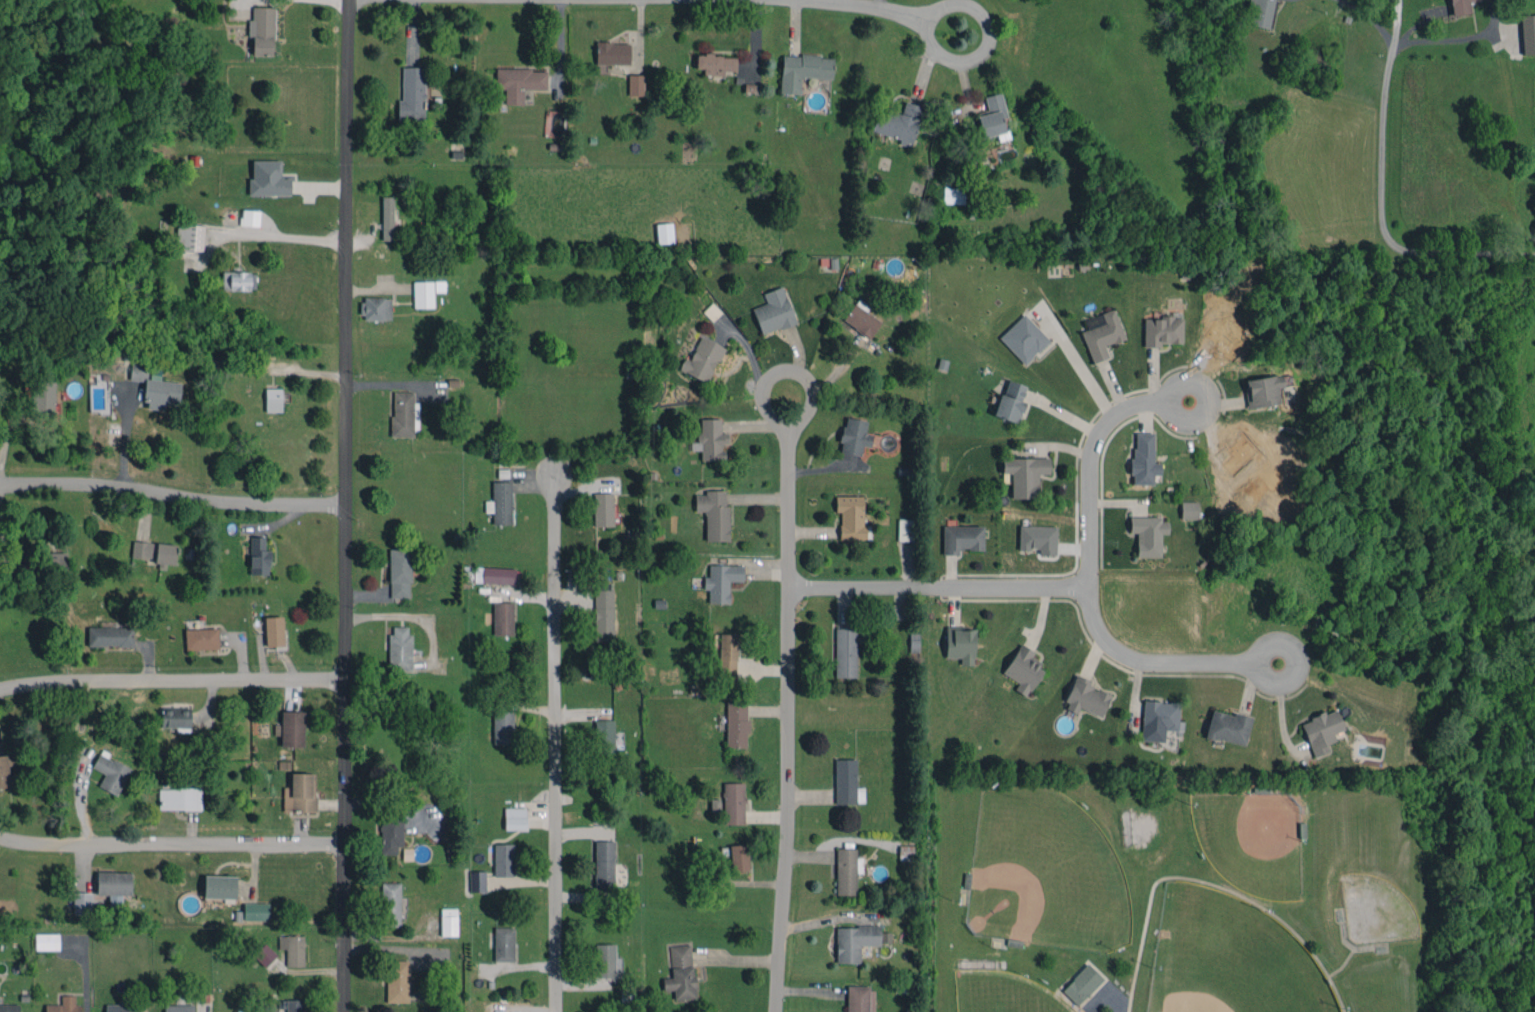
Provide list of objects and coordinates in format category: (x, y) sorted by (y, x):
road: (866, 6)
building: (1460, 7)
building: (1260, 13)
road: (1372, 20)
building: (262, 30)
building: (1528, 33)
road: (1445, 41)
building: (612, 53)
road: (980, 56)
building: (716, 64)
building: (803, 70)
building: (519, 82)
building: (635, 84)
building: (412, 94)
building: (992, 116)
building: (898, 123)
building: (268, 179)
road: (1384, 193)
building: (953, 195)
building: (250, 217)
building: (387, 217)
building: (664, 233)
road: (284, 235)
building: (190, 237)
building: (238, 280)
building: (426, 292)
building: (376, 308)
building: (773, 311)
building: (711, 312)
building: (861, 318)
building: (1162, 330)
building: (1102, 335)
building: (1023, 338)
building: (702, 359)
road: (1080, 365)
road: (801, 376)
building: (155, 387)
building: (1261, 390)
building: (43, 399)
building: (273, 399)
building: (1011, 401)
building: (403, 413)
building: (854, 436)
road: (124, 437)
building: (710, 439)
building: (1143, 459)
building: (1025, 474)
road: (172, 495)
building: (500, 503)
road: (345, 505)
building: (603, 509)
building: (1188, 510)
building: (714, 514)
building: (850, 517)
building: (905, 529)
building: (1148, 534)
building: (961, 538)
building: (1037, 539)
building: (154, 552)
building: (258, 556)
building: (56, 562)
building: (399, 573)
building: (494, 575)
road: (1089, 578)
building: (721, 581)
road: (941, 589)
building: (603, 615)
building: (502, 618)
building: (274, 631)
building: (110, 636)
building: (201, 638)
building: (960, 644)
building: (400, 648)
building: (845, 652)
building: (727, 657)
building: (1023, 669)
road: (171, 682)
building: (1086, 697)
building: (176, 718)
road: (790, 722)
building: (736, 723)
building: (502, 727)
building: (1227, 727)
building: (290, 728)
building: (1321, 731)
building: (604, 736)
road: (556, 742)
building: (6, 768)
building: (111, 773)
building: (845, 781)
building: (300, 793)
building: (179, 798)
building: (733, 803)
building: (715, 805)
building: (515, 818)
building: (390, 834)
road: (170, 843)
building: (739, 857)
building: (503, 859)
building: (604, 865)
building: (846, 871)
park: (1034, 877)
building: (477, 881)
building: (114, 885)
building: (219, 886)
building: (82, 902)
building: (390, 904)
building: (256, 911)
building: (448, 921)
building: (47, 941)
building: (854, 941)
building: (503, 944)
building: (293, 949)
building: (264, 955)
park: (1229, 958)
building: (606, 960)
building: (680, 972)
building: (397, 981)
building: (1082, 984)
park: (1006, 993)
building: (860, 999)
building: (64, 1005)
building: (295, 1005)
building: (9, 1007)
building: (122, 1007)
road: (1105, 1007)
building: (178, 1008)

